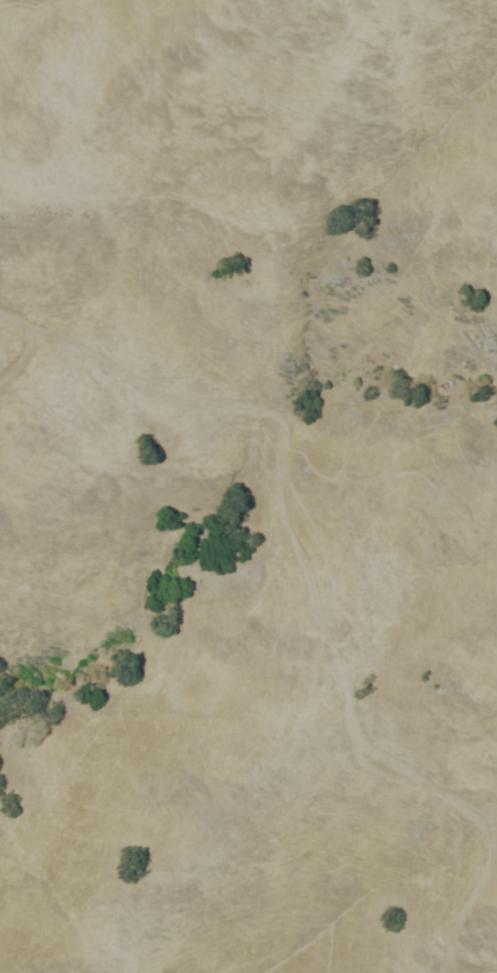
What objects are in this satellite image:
road: (14, 319)
road: (21, 356)
road: (314, 595)

